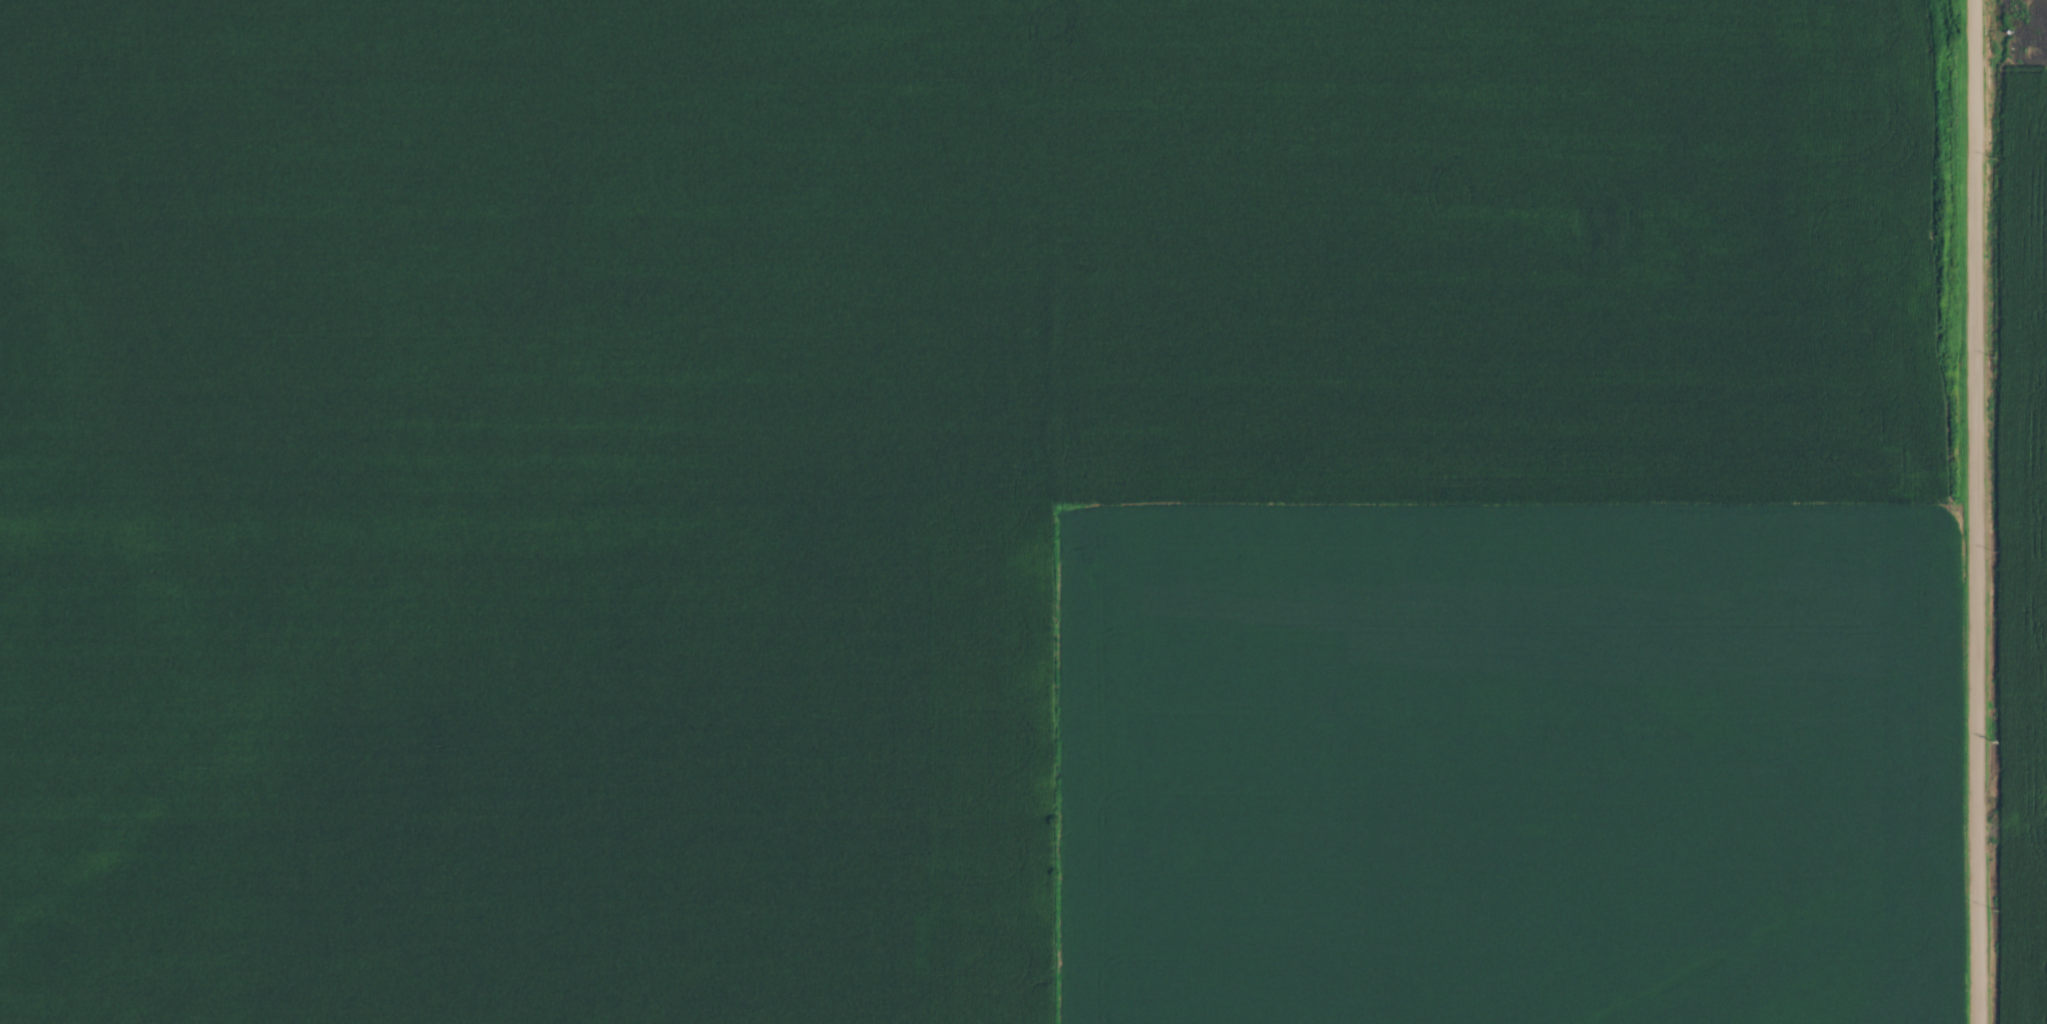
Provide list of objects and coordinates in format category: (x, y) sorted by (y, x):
road: (1971, 512)

